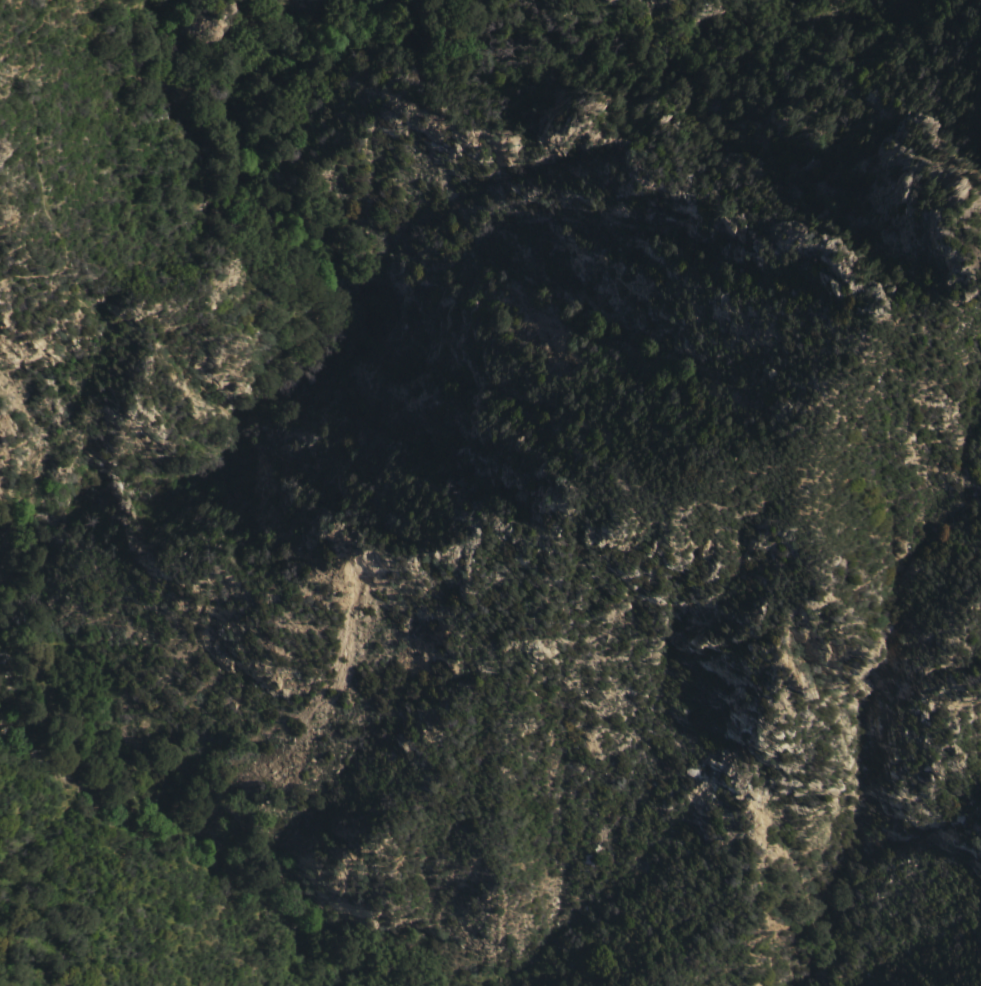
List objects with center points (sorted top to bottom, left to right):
road: (36, 161)

